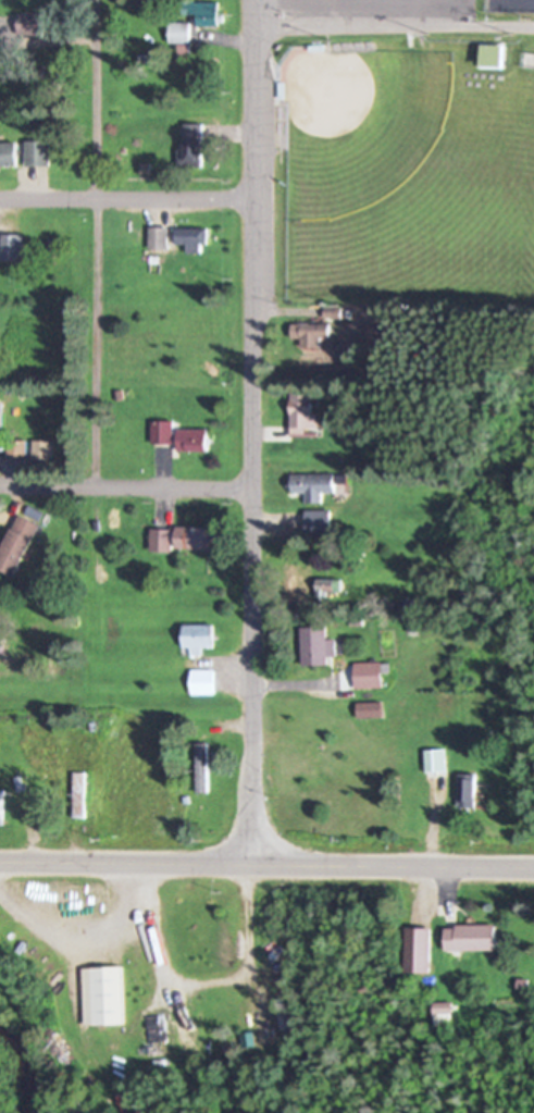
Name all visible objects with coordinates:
building: (201, 13)
road: (389, 22)
building: (28, 23)
building: (176, 33)
park: (340, 100)
building: (190, 145)
building: (36, 152)
building: (8, 153)
road: (124, 198)
park: (438, 220)
building: (157, 238)
building: (190, 238)
road: (94, 243)
road: (247, 243)
building: (10, 247)
building: (308, 334)
building: (303, 412)
building: (161, 433)
building: (191, 441)
building: (41, 450)
building: (316, 485)
road: (124, 486)
building: (193, 539)
building: (160, 541)
building: (16, 545)
building: (198, 635)
building: (316, 646)
building: (369, 675)
road: (250, 677)
building: (202, 681)
building: (435, 760)
building: (201, 767)
building: (468, 790)
building: (78, 794)
building: (1, 806)
road: (266, 867)
building: (472, 937)
building: (419, 950)
building: (110, 994)
building: (443, 1010)
building: (197, 1016)
building: (160, 1030)
river: (23, 1066)
park: (3, 1092)

